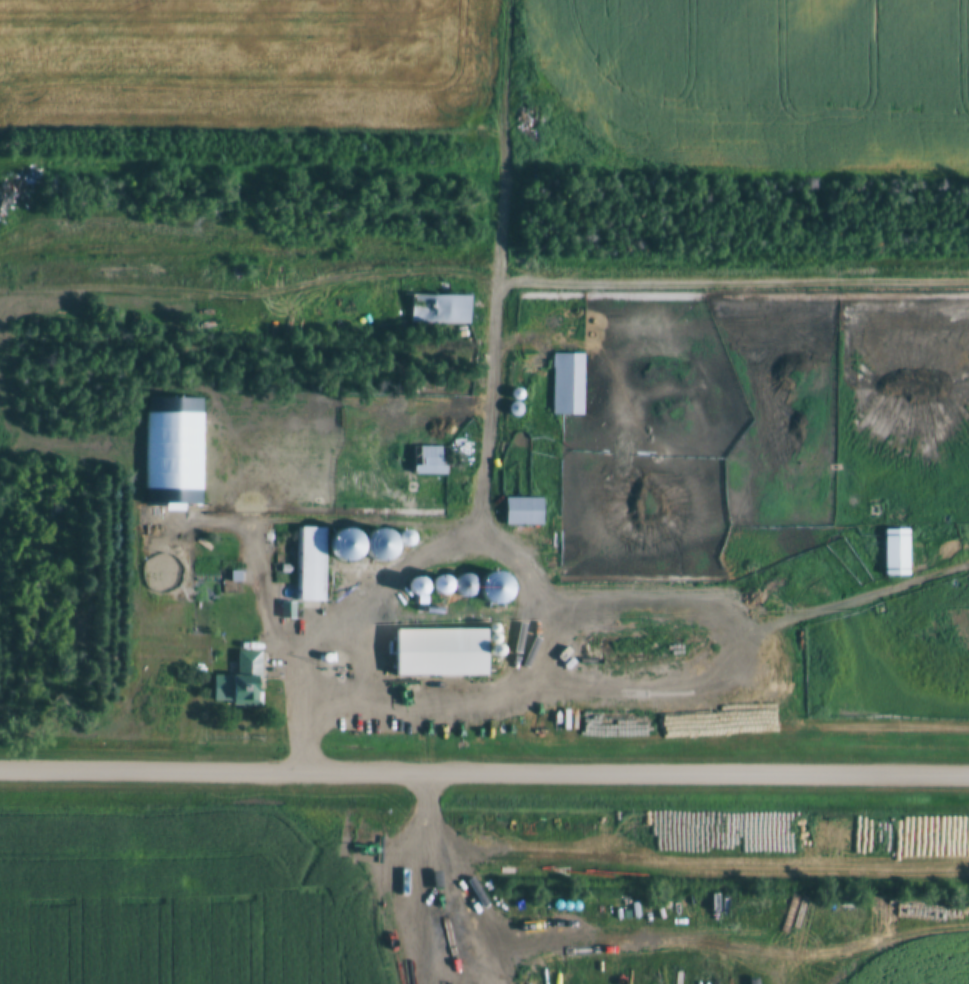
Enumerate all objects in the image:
road: (506, 143)
road: (265, 286)
building: (438, 310)
building: (566, 385)
road: (489, 414)
building: (317, 458)
building: (427, 462)
building: (522, 512)
building: (374, 547)
building: (895, 551)
road: (502, 553)
building: (319, 564)
road: (753, 598)
building: (436, 655)
building: (239, 684)
road: (484, 772)
building: (937, 839)
building: (436, 933)

